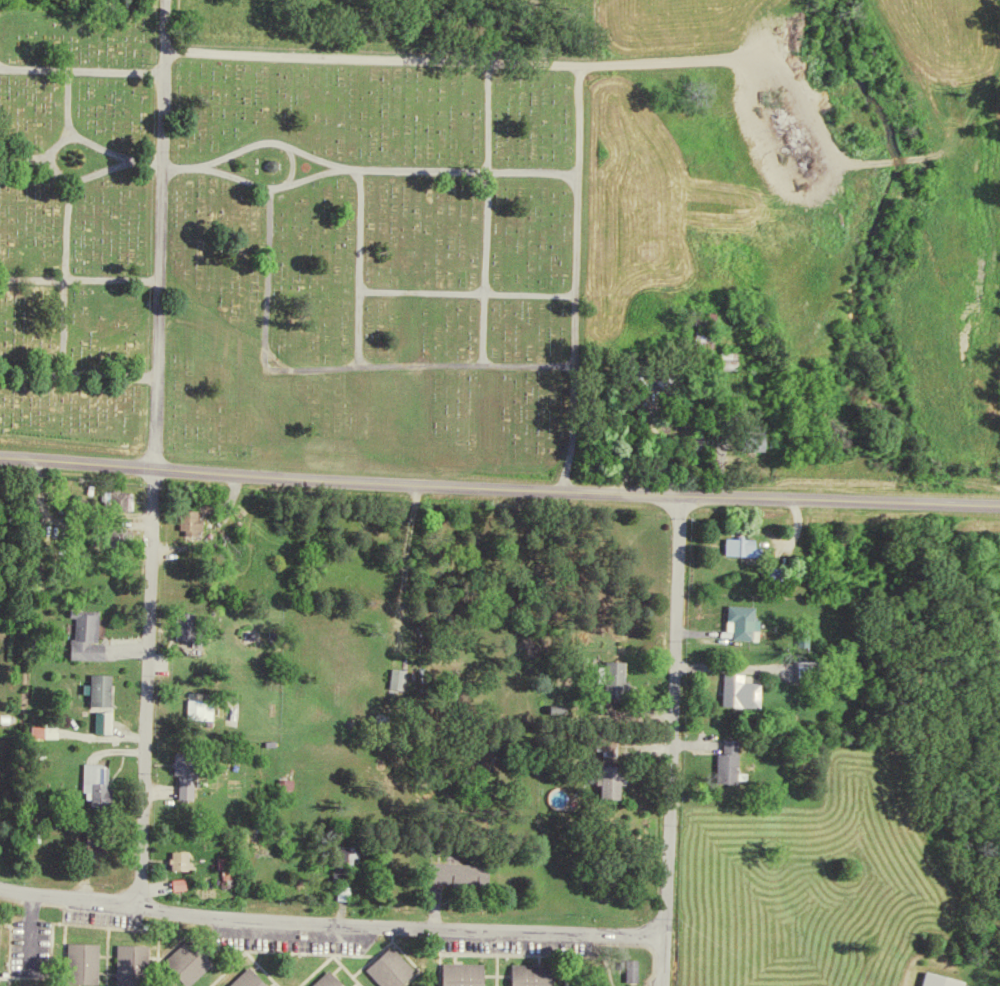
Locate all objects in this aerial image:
road: (370, 56)
road: (81, 69)
road: (64, 101)
road: (485, 114)
road: (76, 135)
road: (161, 164)
road: (364, 167)
road: (88, 173)
road: (268, 183)
road: (63, 226)
park: (291, 240)
road: (356, 266)
road: (482, 266)
road: (576, 276)
road: (79, 277)
road: (466, 289)
road: (62, 324)
road: (331, 366)
road: (78, 372)
road: (156, 398)
building: (755, 437)
road: (499, 487)
building: (127, 500)
building: (191, 522)
building: (742, 547)
building: (742, 622)
building: (189, 627)
building: (89, 638)
building: (400, 679)
building: (616, 679)
road: (147, 686)
building: (102, 690)
building: (742, 691)
building: (203, 710)
building: (106, 722)
building: (52, 732)
road: (670, 739)
building: (730, 762)
building: (610, 782)
building: (100, 783)
building: (289, 784)
building: (106, 841)
building: (189, 859)
building: (232, 867)
building: (480, 874)
building: (186, 884)
road: (329, 925)
building: (4, 940)
building: (185, 959)
building: (80, 961)
building: (129, 963)
building: (387, 967)
building: (627, 968)
building: (637, 970)
building: (458, 973)
building: (529, 974)
building: (245, 978)
building: (324, 979)
building: (337, 980)
building: (948, 980)

